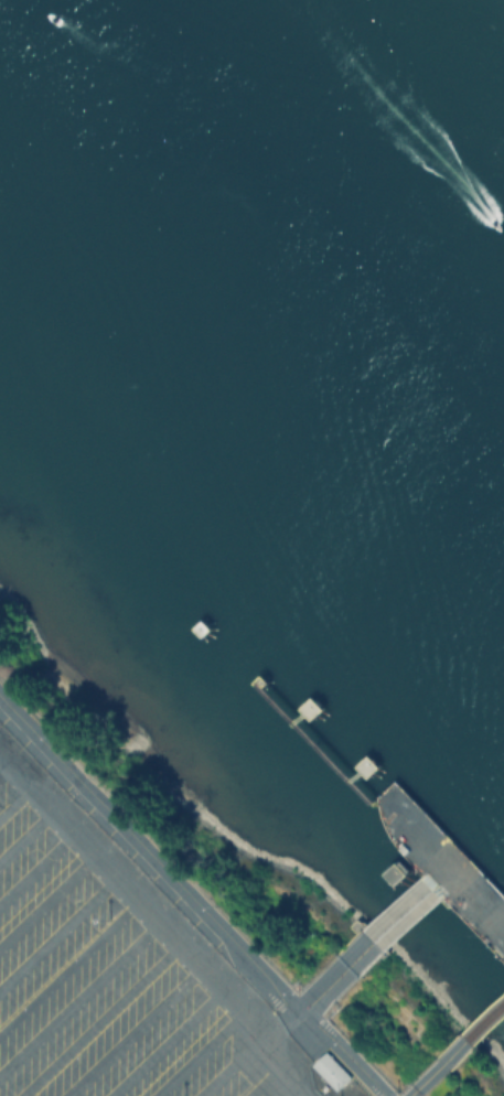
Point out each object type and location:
river: (299, 217)
pier: (201, 628)
road: (7, 765)
road: (17, 797)
road: (28, 830)
road: (37, 862)
pier: (415, 870)
road: (49, 895)
road: (190, 899)
road: (159, 915)
road: (60, 931)
road: (353, 959)
road: (71, 963)
road: (81, 995)
road: (100, 1018)
road: (281, 1020)
road: (131, 1029)
road: (167, 1041)
pier: (464, 1041)
road: (197, 1051)
road: (232, 1063)
building: (331, 1070)
road: (435, 1070)
road: (264, 1077)
road: (293, 1090)

